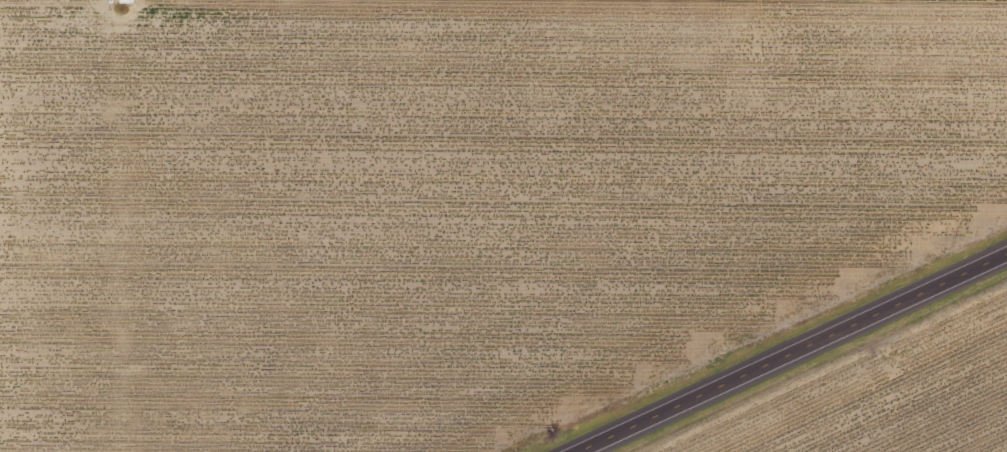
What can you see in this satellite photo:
road: (809, 360)

